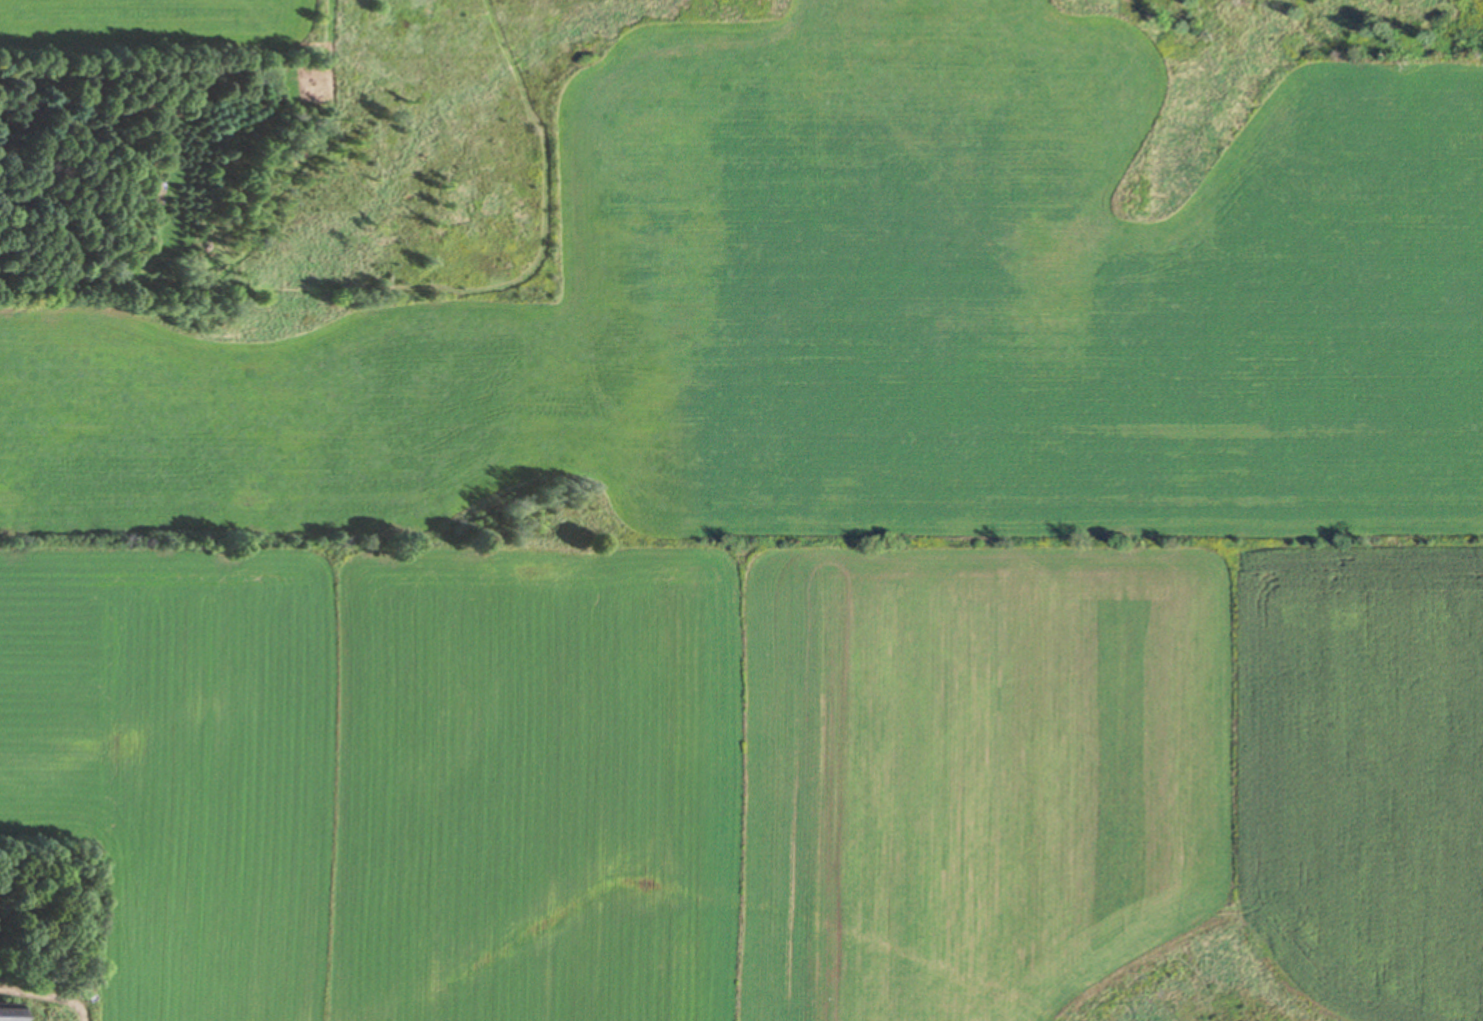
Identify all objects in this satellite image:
building: (8, 1011)

